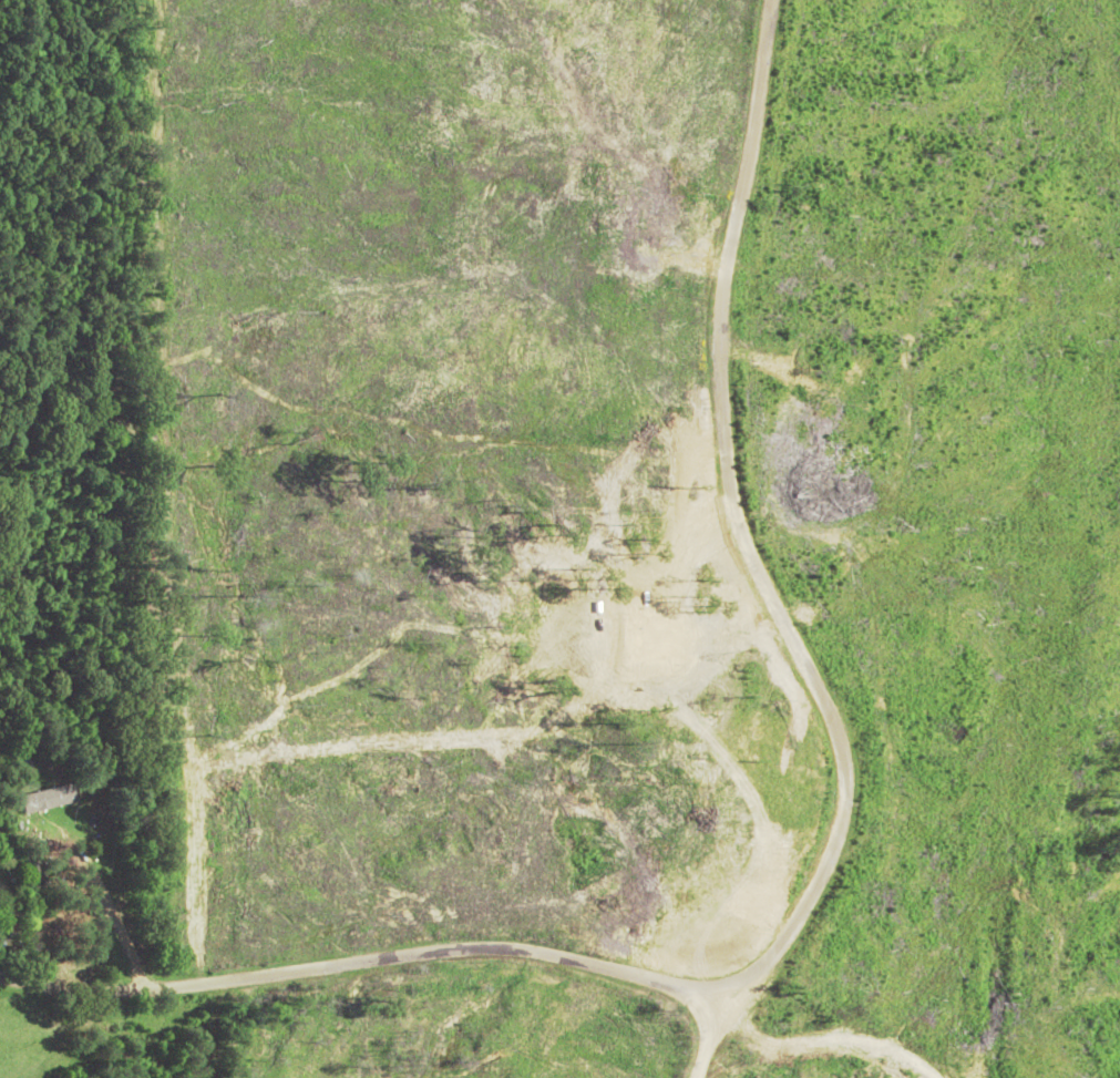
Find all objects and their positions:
road: (699, 552)
building: (49, 801)
road: (352, 918)

